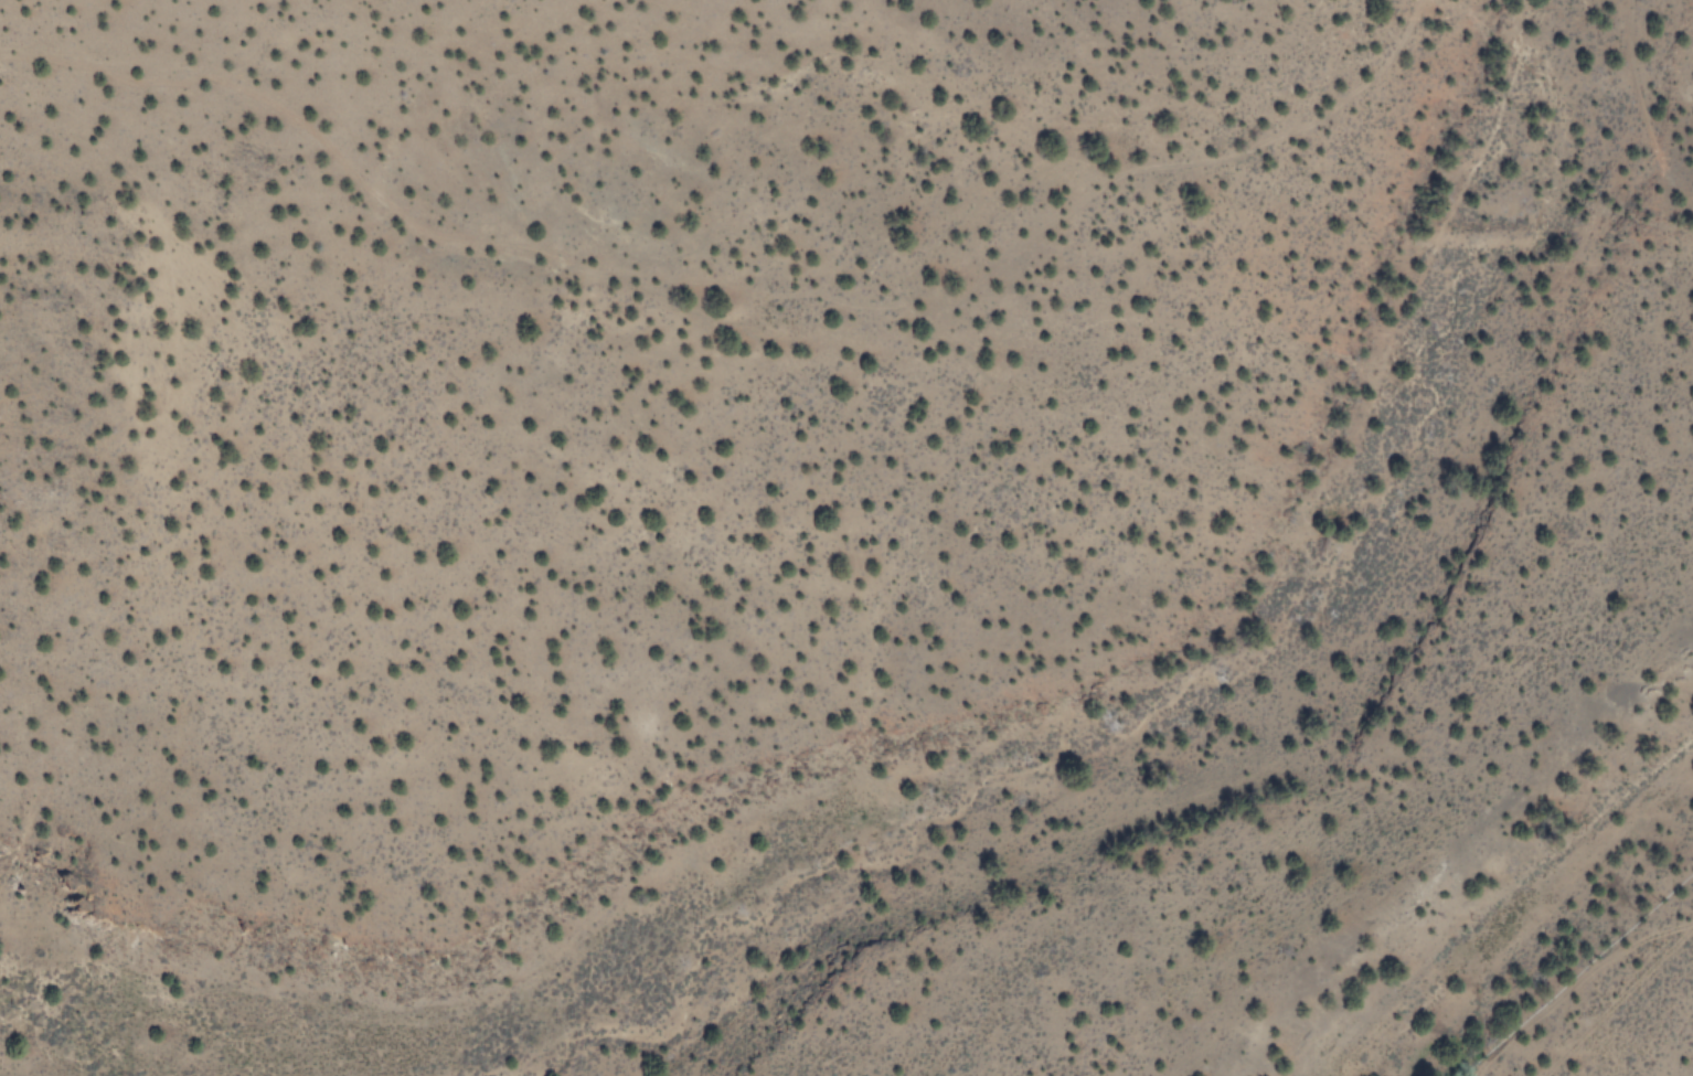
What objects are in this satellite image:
crop: (1622, 1027)

